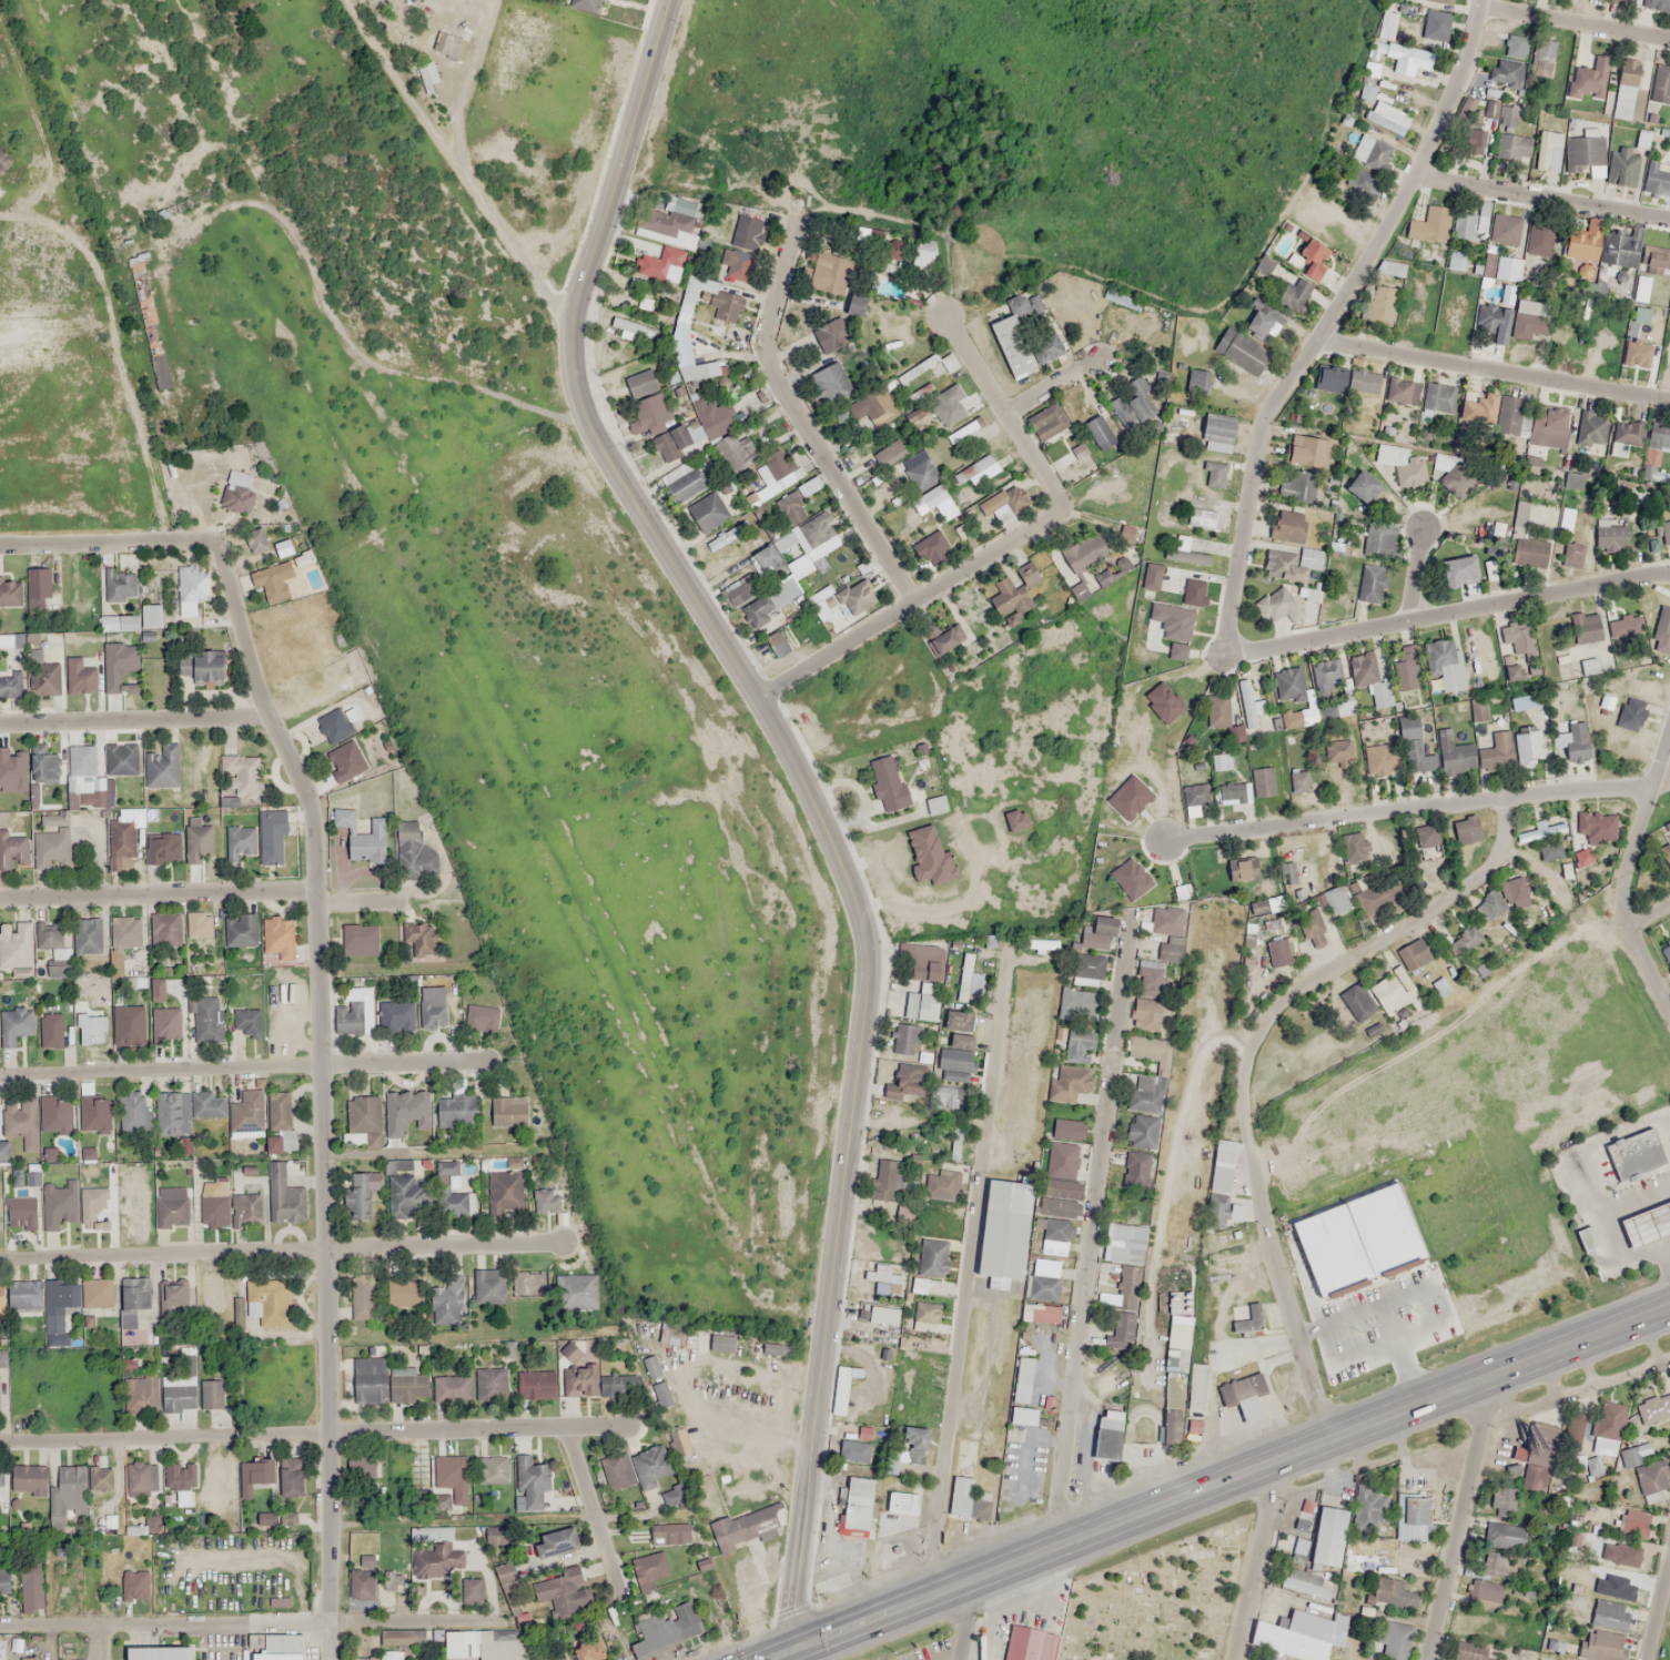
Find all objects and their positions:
building: (1437, 0)
building: (1658, 3)
road: (1575, 23)
building: (1435, 24)
building: (1388, 40)
building: (1516, 45)
building: (1542, 55)
building: (427, 72)
building: (1506, 72)
building: (1590, 78)
building: (1661, 82)
building: (1625, 88)
building: (1492, 92)
building: (1509, 117)
building: (1641, 139)
building: (1472, 141)
building: (1512, 146)
building: (1548, 151)
building: (1583, 151)
building: (1372, 152)
building: (1628, 170)
road: (1544, 198)
building: (1469, 221)
building: (1429, 224)
building: (1505, 229)
building: (747, 232)
building: (667, 237)
building: (1540, 237)
building: (1582, 241)
building: (1620, 249)
building: (1654, 252)
building: (1314, 257)
building: (1456, 260)
building: (737, 264)
building: (1390, 267)
building: (1501, 267)
building: (691, 297)
building: (856, 305)
building: (1277, 306)
building: (1528, 318)
building: (1491, 321)
road: (1330, 323)
building: (830, 335)
building: (1023, 346)
building: (1242, 352)
building: (1637, 353)
road: (1495, 368)
building: (698, 371)
building: (1330, 377)
building: (1364, 381)
building: (830, 382)
building: (1197, 382)
building: (641, 383)
road: (1043, 391)
building: (1403, 391)
building: (1439, 396)
building: (1132, 404)
building: (943, 405)
road: (1003, 407)
building: (1478, 407)
building: (1510, 415)
road: (801, 418)
building: (717, 421)
building: (1047, 421)
building: (1591, 431)
building: (1100, 432)
building: (1217, 432)
building: (1545, 434)
building: (1627, 435)
building: (1659, 435)
building: (671, 442)
building: (1307, 452)
building: (872, 454)
building: (1391, 454)
building: (919, 470)
building: (976, 470)
building: (1215, 474)
building: (1572, 480)
building: (1292, 485)
building: (1363, 486)
building: (236, 493)
building: (932, 496)
building: (1000, 509)
building: (708, 512)
building: (1201, 517)
building: (1287, 525)
building: (1662, 533)
building: (1610, 535)
building: (721, 538)
building: (1377, 539)
road: (108, 543)
building: (793, 545)
building: (1529, 551)
building: (1084, 553)
building: (1571, 555)
building: (1186, 556)
building: (1293, 564)
building: (1458, 570)
road: (1417, 574)
building: (272, 580)
building: (1370, 583)
building: (119, 584)
building: (38, 587)
building: (737, 587)
building: (1019, 588)
building: (191, 589)
building: (10, 590)
building: (1308, 593)
building: (1173, 597)
road: (912, 600)
building: (769, 601)
building: (1274, 605)
road: (1447, 615)
building: (133, 619)
building: (1625, 626)
building: (1585, 627)
building: (1662, 630)
building: (7, 640)
building: (1521, 645)
building: (1444, 662)
building: (1587, 665)
building: (201, 667)
building: (1405, 667)
building: (120, 668)
building: (44, 675)
building: (79, 676)
building: (1326, 676)
building: (1369, 677)
building: (1288, 684)
building: (9, 686)
building: (1524, 701)
building: (1248, 704)
building: (1336, 707)
building: (1216, 712)
building: (1631, 712)
road: (134, 719)
building: (333, 726)
building: (1572, 741)
building: (1414, 746)
building: (1528, 748)
building: (1496, 750)
building: (1338, 751)
building: (1454, 755)
building: (121, 759)
building: (82, 760)
building: (345, 760)
building: (1380, 760)
building: (1222, 761)
building: (43, 765)
building: (162, 766)
building: (12, 770)
building: (239, 776)
building: (1299, 780)
building: (1262, 781)
building: (888, 783)
building: (1231, 791)
building: (1195, 793)
road: (822, 800)
road: (1405, 810)
building: (343, 817)
building: (1598, 827)
building: (1466, 830)
building: (271, 837)
building: (199, 840)
building: (1428, 840)
building: (122, 842)
building: (240, 842)
building: (368, 842)
building: (162, 847)
building: (1352, 847)
building: (51, 848)
building: (1549, 849)
building: (13, 850)
building: (1242, 868)
building: (1126, 872)
building: (1287, 872)
building: (1332, 872)
road: (1629, 872)
building: (1514, 891)
road: (201, 894)
building: (1264, 905)
building: (1161, 917)
road: (1650, 917)
building: (199, 924)
building: (165, 928)
building: (241, 930)
building: (1102, 930)
building: (419, 933)
building: (88, 935)
building: (279, 938)
building: (358, 939)
building: (123, 940)
building: (54, 944)
building: (17, 948)
building: (1282, 951)
building: (1416, 951)
building: (1667, 955)
building: (1152, 986)
building: (1388, 994)
building: (1081, 1001)
building: (1356, 1001)
building: (922, 1005)
building: (355, 1011)
building: (432, 1014)
building: (397, 1015)
building: (206, 1020)
building: (958, 1020)
building: (246, 1021)
building: (129, 1024)
building: (165, 1024)
building: (14, 1025)
building: (91, 1029)
building: (51, 1030)
building: (908, 1039)
building: (1075, 1039)
building: (1151, 1051)
building: (957, 1060)
road: (1249, 1060)
road: (245, 1069)
building: (909, 1082)
building: (1070, 1083)
road: (323, 1091)
building: (1145, 1093)
building: (950, 1095)
building: (185, 1110)
building: (132, 1111)
building: (455, 1111)
building: (508, 1111)
building: (247, 1112)
building: (95, 1113)
building: (55, 1114)
building: (407, 1116)
building: (26, 1121)
building: (362, 1121)
building: (277, 1122)
building: (1142, 1131)
building: (1057, 1156)
building: (32, 1174)
building: (885, 1181)
building: (1219, 1183)
building: (941, 1185)
building: (503, 1191)
building: (451, 1193)
building: (283, 1195)
building: (360, 1195)
building: (407, 1196)
building: (1060, 1196)
building: (215, 1203)
building: (143, 1204)
building: (172, 1205)
building: (244, 1205)
building: (93, 1207)
building: (55, 1208)
building: (21, 1213)
building: (1646, 1223)
building: (1004, 1228)
building: (1054, 1228)
road: (1093, 1233)
building: (1124, 1239)
road: (282, 1248)
building: (931, 1259)
road: (969, 1272)
building: (883, 1275)
building: (529, 1283)
building: (488, 1286)
building: (1041, 1286)
building: (575, 1290)
building: (97, 1292)
building: (403, 1293)
building: (24, 1294)
building: (62, 1294)
building: (176, 1296)
building: (363, 1296)
building: (133, 1298)
building: (447, 1302)
building: (265, 1303)
building: (1039, 1313)
building: (883, 1314)
building: (925, 1316)
building: (57, 1339)
building: (721, 1342)
building: (651, 1367)
building: (1018, 1375)
building: (596, 1378)
building: (368, 1380)
building: (1192, 1380)
building: (532, 1383)
building: (490, 1384)
building: (409, 1386)
building: (453, 1386)
building: (179, 1391)
building: (142, 1393)
building: (660, 1393)
building: (212, 1394)
building: (1244, 1396)
building: (1172, 1407)
building: (1018, 1410)
road: (314, 1431)
building: (1575, 1431)
building: (1107, 1435)
road: (1312, 1444)
building: (915, 1445)
building: (1541, 1448)
building: (853, 1450)
building: (1600, 1451)
building: (1644, 1471)
building: (1, 1475)
building: (180, 1475)
building: (255, 1475)
building: (141, 1476)
building: (291, 1476)
building: (29, 1478)
building: (100, 1478)
building: (451, 1480)
building: (534, 1486)
building: (71, 1489)
building: (897, 1496)
building: (961, 1496)
building: (1502, 1501)
building: (858, 1502)
road: (590, 1508)
building: (1410, 1517)
road: (1459, 1517)
building: (1632, 1522)
building: (1323, 1532)
building: (1504, 1536)
building: (549, 1537)
building: (434, 1551)
building: (1620, 1553)
road: (1261, 1557)
building: (1367, 1562)
building: (1537, 1571)
road: (1669, 1572)
building: (3, 1578)
building: (31, 1580)
building: (1303, 1581)
building: (361, 1583)
building: (1615, 1588)
building: (469, 1589)
building: (1383, 1589)
building: (564, 1591)
park: (1157, 1600)
road: (1659, 1613)
road: (858, 1621)
road: (965, 1621)
road: (246, 1622)
building: (666, 1629)
building: (1605, 1630)
building: (1293, 1638)
building: (1393, 1638)
road: (99, 1642)
building: (1024, 1642)
building: (487, 1643)
traffic signals: (791, 1649)
building: (150, 1650)
building: (590, 1650)
building: (1470, 1652)
building: (270, 1653)
building: (391, 1654)
building: (30, 1658)

